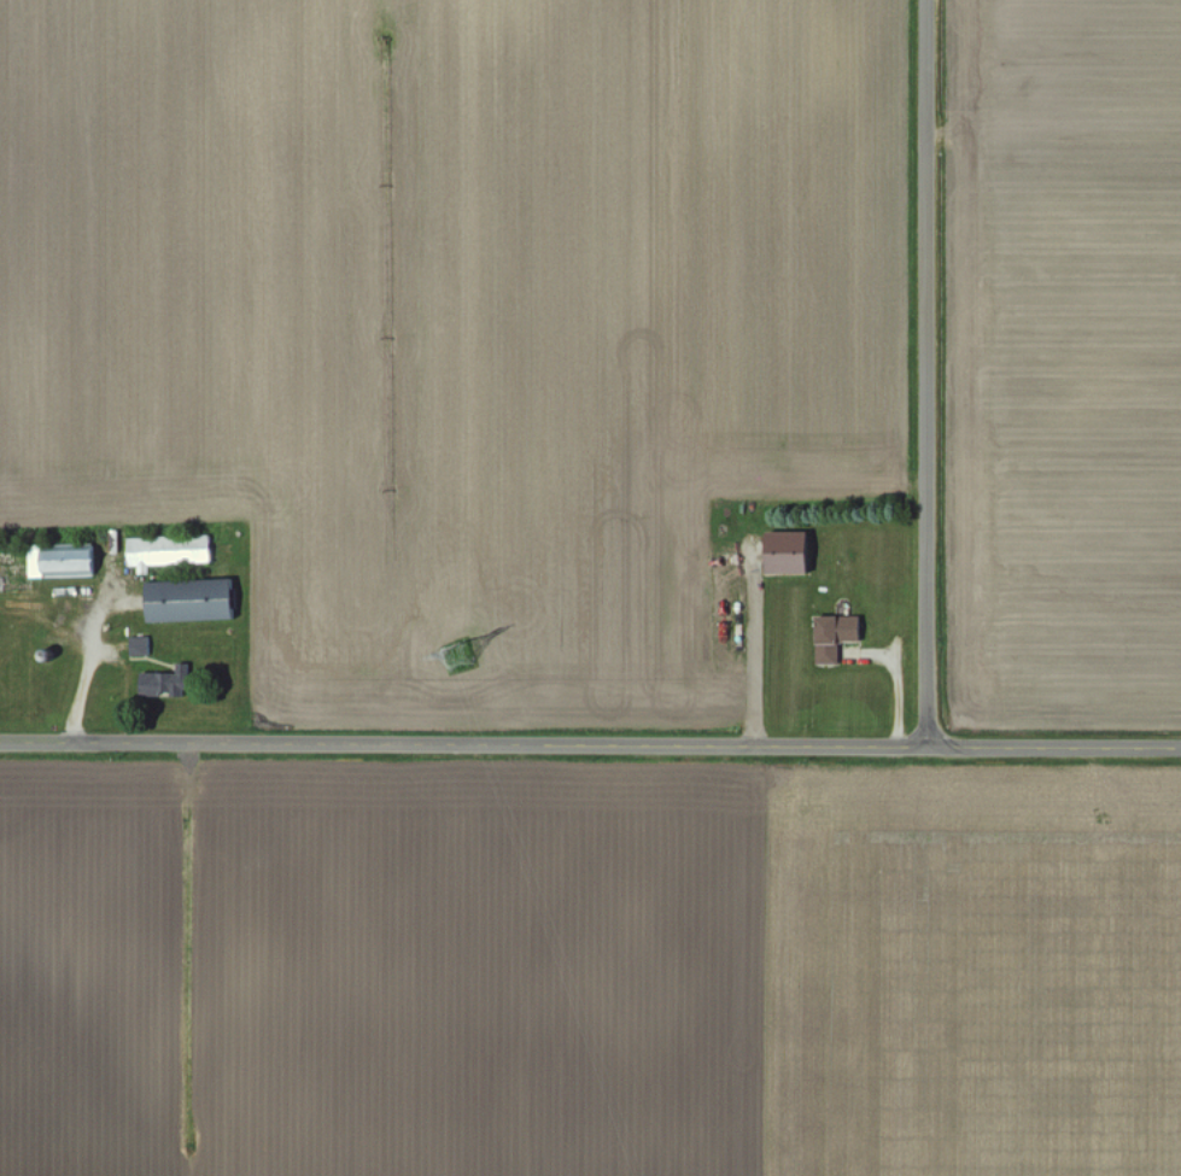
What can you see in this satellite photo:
road: (928, 375)
building: (174, 555)
building: (796, 556)
building: (69, 564)
building: (197, 603)
building: (842, 639)
power tower: (454, 645)
building: (145, 649)
building: (173, 684)
road: (590, 747)

